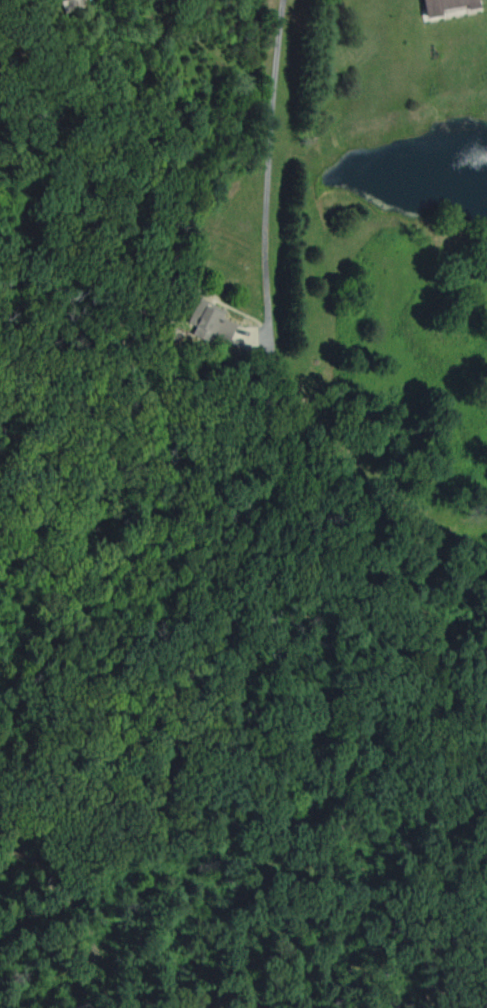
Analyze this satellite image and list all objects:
building: (442, 5)
building: (207, 320)

